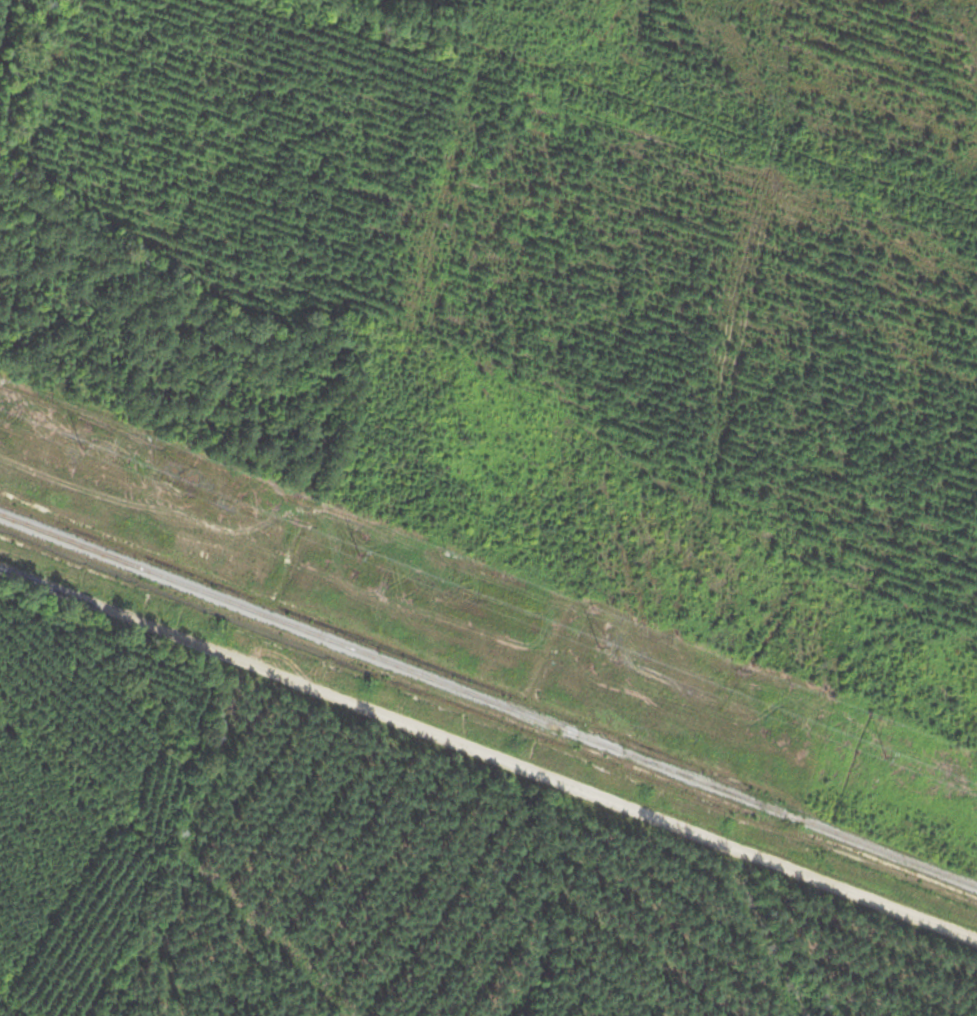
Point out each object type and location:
railway: (488, 695)
road: (493, 737)

